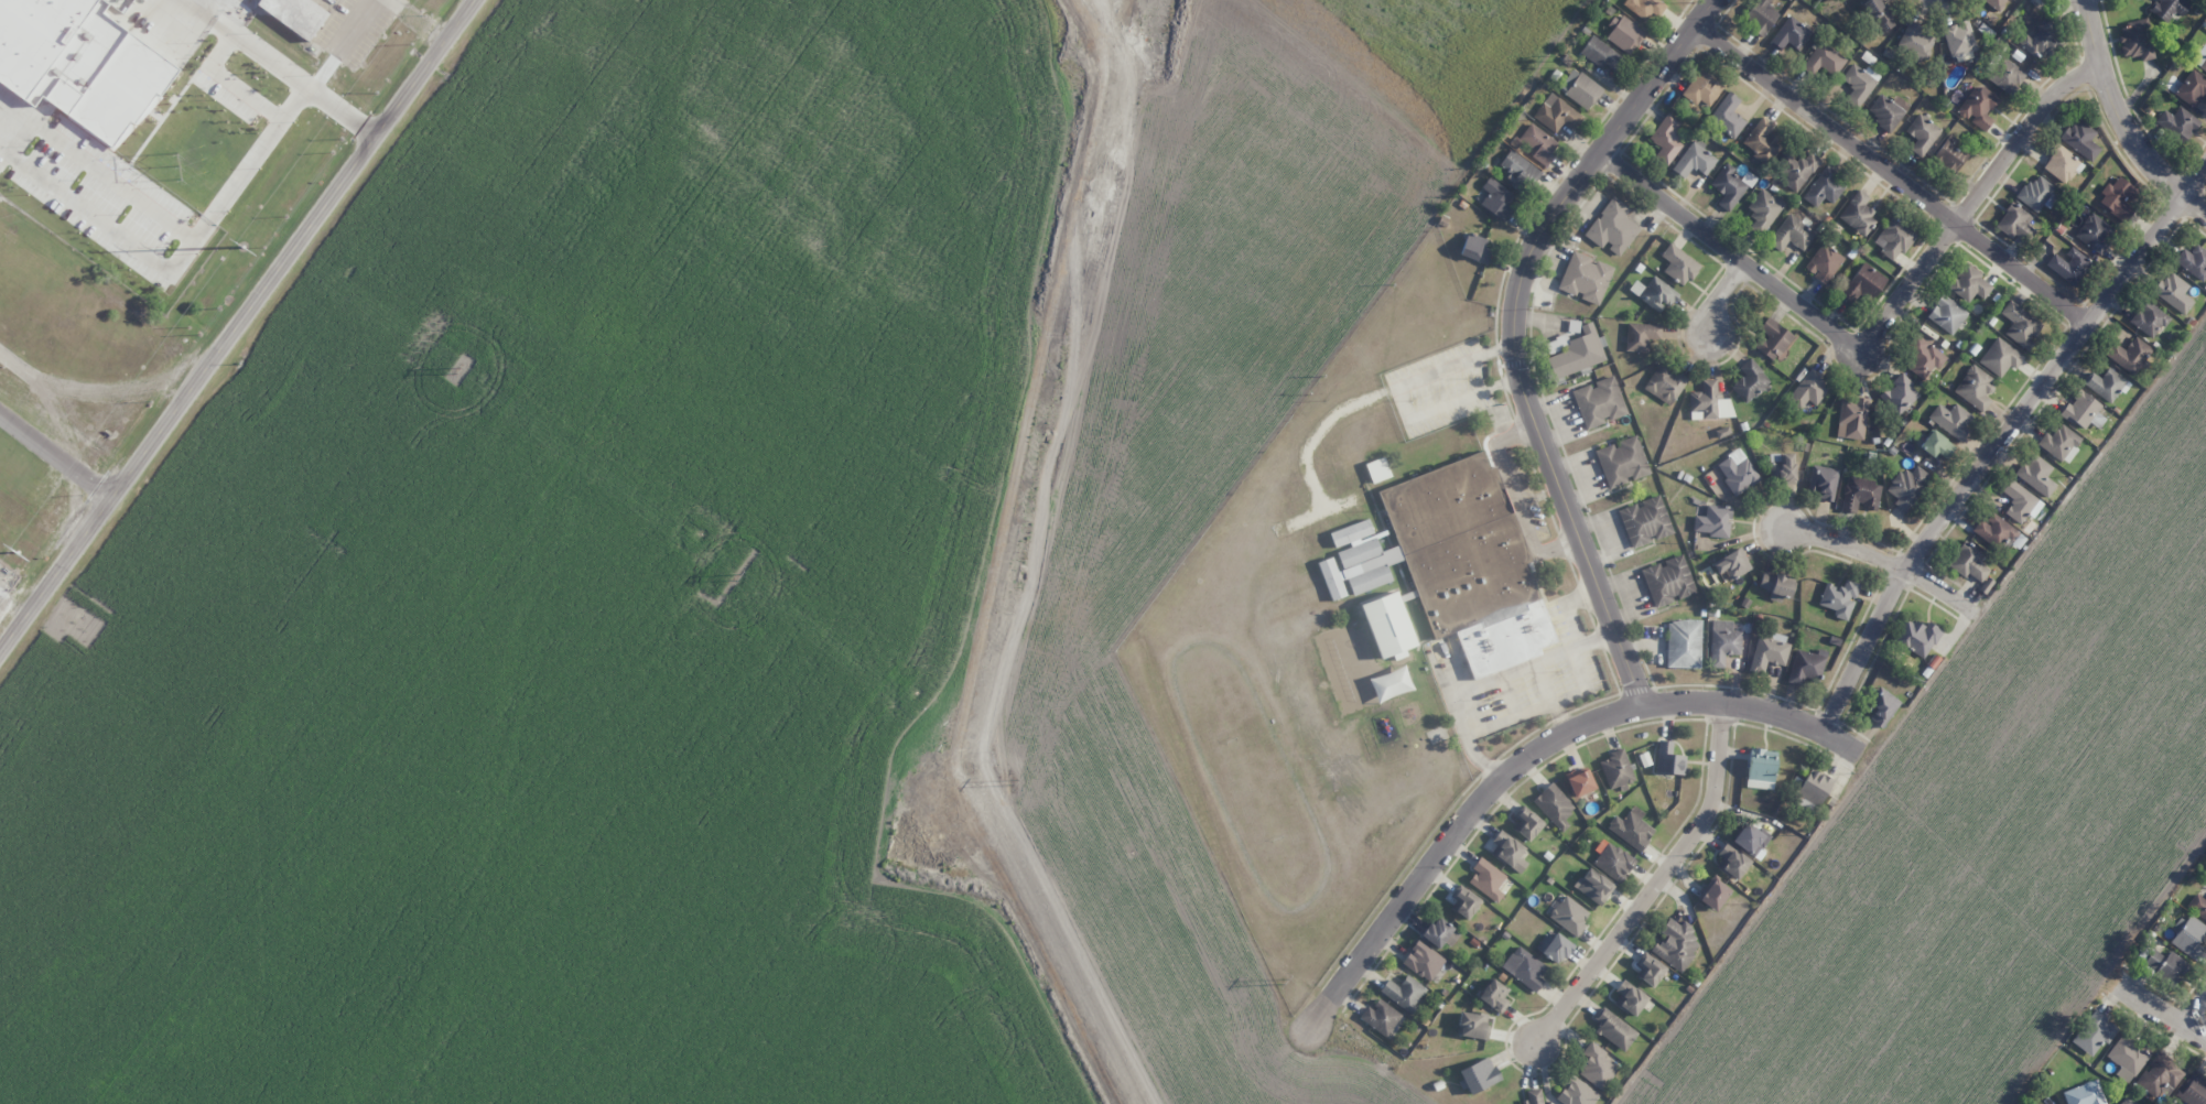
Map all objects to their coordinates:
building: (1994, 3)
building: (1645, 7)
building: (2167, 8)
building: (296, 14)
building: (1879, 14)
building: (1760, 17)
building: (1623, 33)
building: (1789, 33)
building: (34, 37)
building: (1959, 39)
building: (2135, 40)
building: (2041, 41)
building: (1914, 43)
building: (1599, 53)
building: (2200, 57)
building: (1824, 59)
building: (2005, 75)
building: (1858, 84)
building: (119, 85)
building: (1579, 88)
building: (2192, 88)
building: (1701, 89)
building: (1978, 107)
building: (1888, 111)
building: (1557, 113)
building: (1727, 116)
road: (2119, 120)
building: (2176, 123)
building: (1922, 133)
building: (1666, 139)
building: (2080, 139)
building: (1762, 141)
building: (1539, 143)
building: (1950, 154)
building: (1695, 160)
building: (2062, 164)
power tower: (180, 166)
building: (1796, 169)
building: (1518, 171)
road: (1890, 173)
building: (1730, 186)
building: (1823, 187)
building: (2034, 192)
building: (1497, 198)
building: (2117, 198)
road: (1970, 201)
building: (1762, 212)
building: (1858, 212)
building: (2014, 223)
building: (1612, 227)
building: (2094, 232)
building: (1791, 234)
building: (1894, 238)
power tower: (241, 247)
building: (1474, 249)
road: (1727, 250)
building: (2192, 261)
building: (1823, 263)
building: (1678, 264)
building: (2068, 264)
building: (1585, 278)
building: (1862, 283)
building: (1968, 283)
building: (2173, 292)
building: (1654, 293)
road: (1718, 295)
building: (1946, 314)
building: (2149, 318)
building: (2020, 324)
road: (238, 326)
road: (1514, 333)
building: (1641, 336)
building: (1772, 338)
building: (1556, 345)
building: (1577, 353)
building: (2129, 355)
building: (1922, 356)
building: (2000, 357)
power tower: (457, 368)
building: (1750, 380)
building: (1664, 383)
building: (2106, 383)
building: (1975, 388)
building: (1808, 389)
building: (1899, 393)
road: (1399, 401)
building: (1599, 402)
building: (1708, 402)
building: (2080, 409)
building: (1852, 418)
building: (1951, 420)
road: (2000, 439)
building: (2059, 443)
building: (1936, 445)
building: (1622, 462)
building: (1782, 467)
building: (1377, 469)
building: (1737, 472)
building: (2035, 475)
building: (1823, 483)
building: (1907, 486)
building: (1860, 494)
building: (2019, 501)
building: (1644, 521)
building: (1713, 521)
building: (1993, 530)
building: (1350, 532)
power tower: (17, 552)
road: (1884, 560)
building: (1968, 562)
building: (1456, 563)
building: (1732, 564)
crop: (723, 571)
power tower: (737, 575)
building: (1667, 581)
building: (1776, 585)
building: (1985, 585)
building: (1839, 597)
building: (1387, 625)
building: (1916, 637)
building: (1722, 642)
building: (1684, 643)
building: (1767, 653)
building: (1806, 667)
building: (1881, 706)
road: (1529, 754)
building: (1668, 759)
building: (1761, 768)
building: (1616, 770)
power tower: (1014, 781)
building: (1579, 781)
building: (1814, 787)
building: (1554, 805)
crop: (1993, 823)
building: (1527, 824)
building: (1631, 829)
building: (1750, 840)
building: (1508, 851)
building: (1731, 861)
building: (1613, 862)
building: (1486, 879)
road: (1655, 883)
building: (1593, 886)
building: (1713, 894)
building: (1464, 903)
building: (2197, 906)
building: (1569, 914)
building: (1439, 933)
building: (2189, 937)
building: (1676, 944)
building: (1553, 946)
building: (1423, 961)
building: (2165, 966)
building: (1524, 967)
building: (1651, 971)
power tower: (1282, 981)
building: (1403, 993)
building: (1493, 995)
building: (1629, 997)
road: (2163, 1011)
road: (2197, 1015)
building: (1380, 1017)
building: (1472, 1026)
building: (1613, 1029)
building: (2094, 1032)
building: (2127, 1058)
building: (1597, 1067)
building: (1479, 1074)
building: (2159, 1075)
building: (2193, 1091)
building: (1577, 1093)
building: (2085, 1094)
building: (1533, 1096)
building: (2128, 1101)

